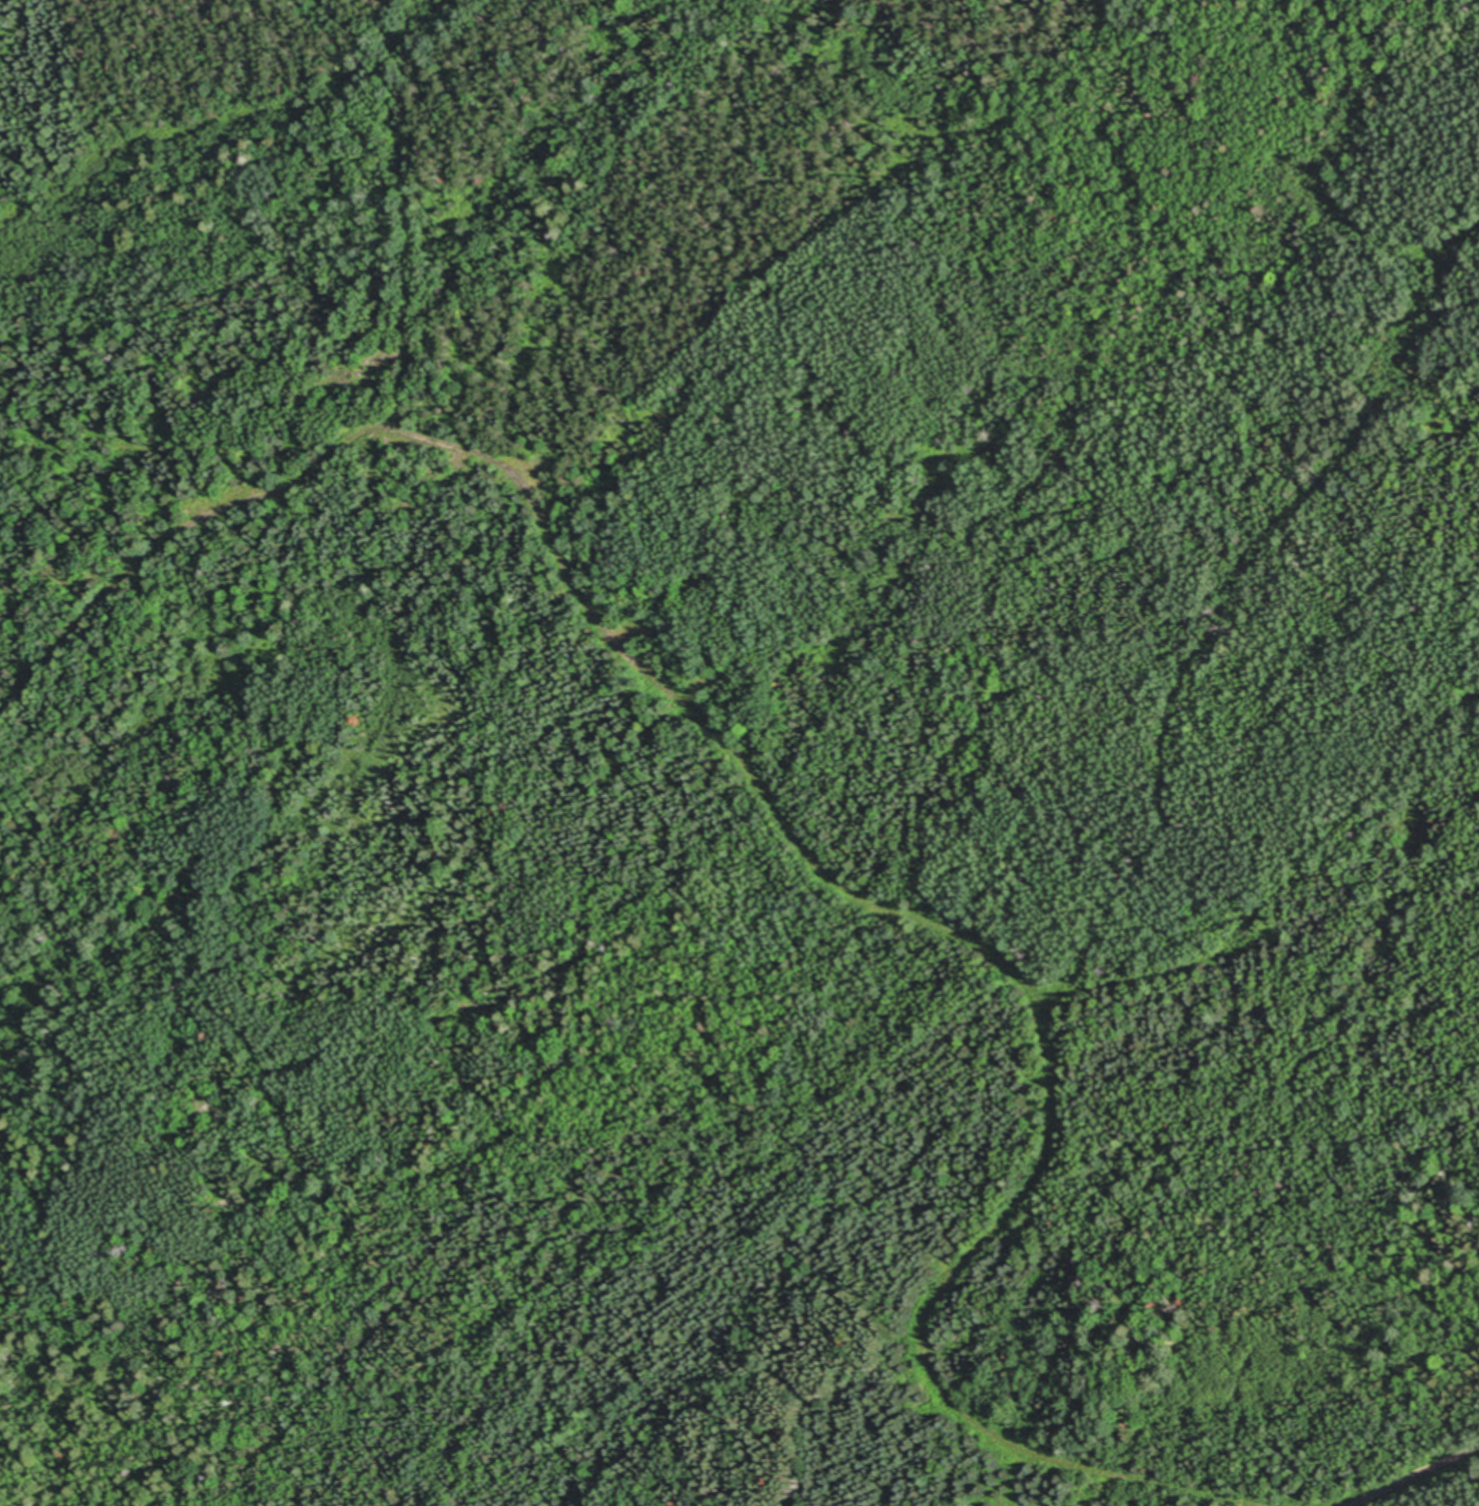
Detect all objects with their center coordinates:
road: (1440, 1482)

